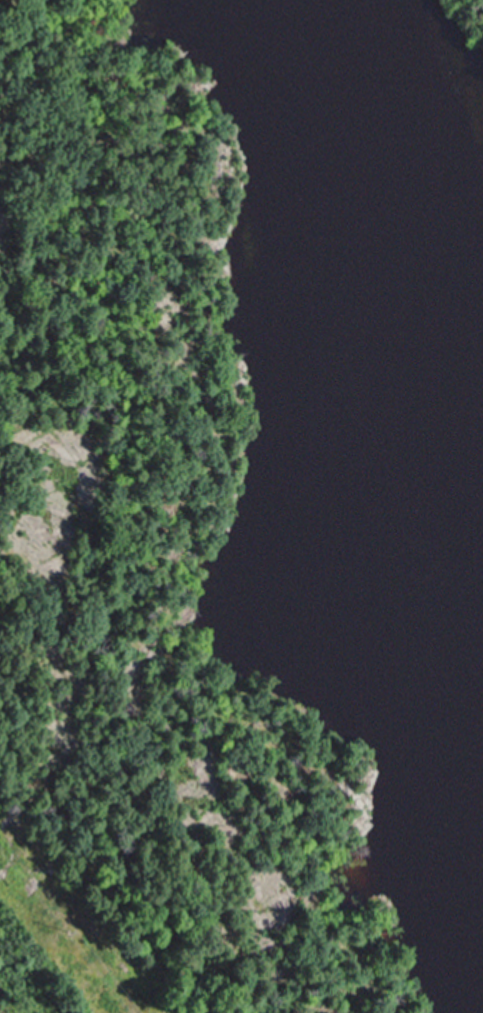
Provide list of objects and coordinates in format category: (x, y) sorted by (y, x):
power tower: (71, 931)

